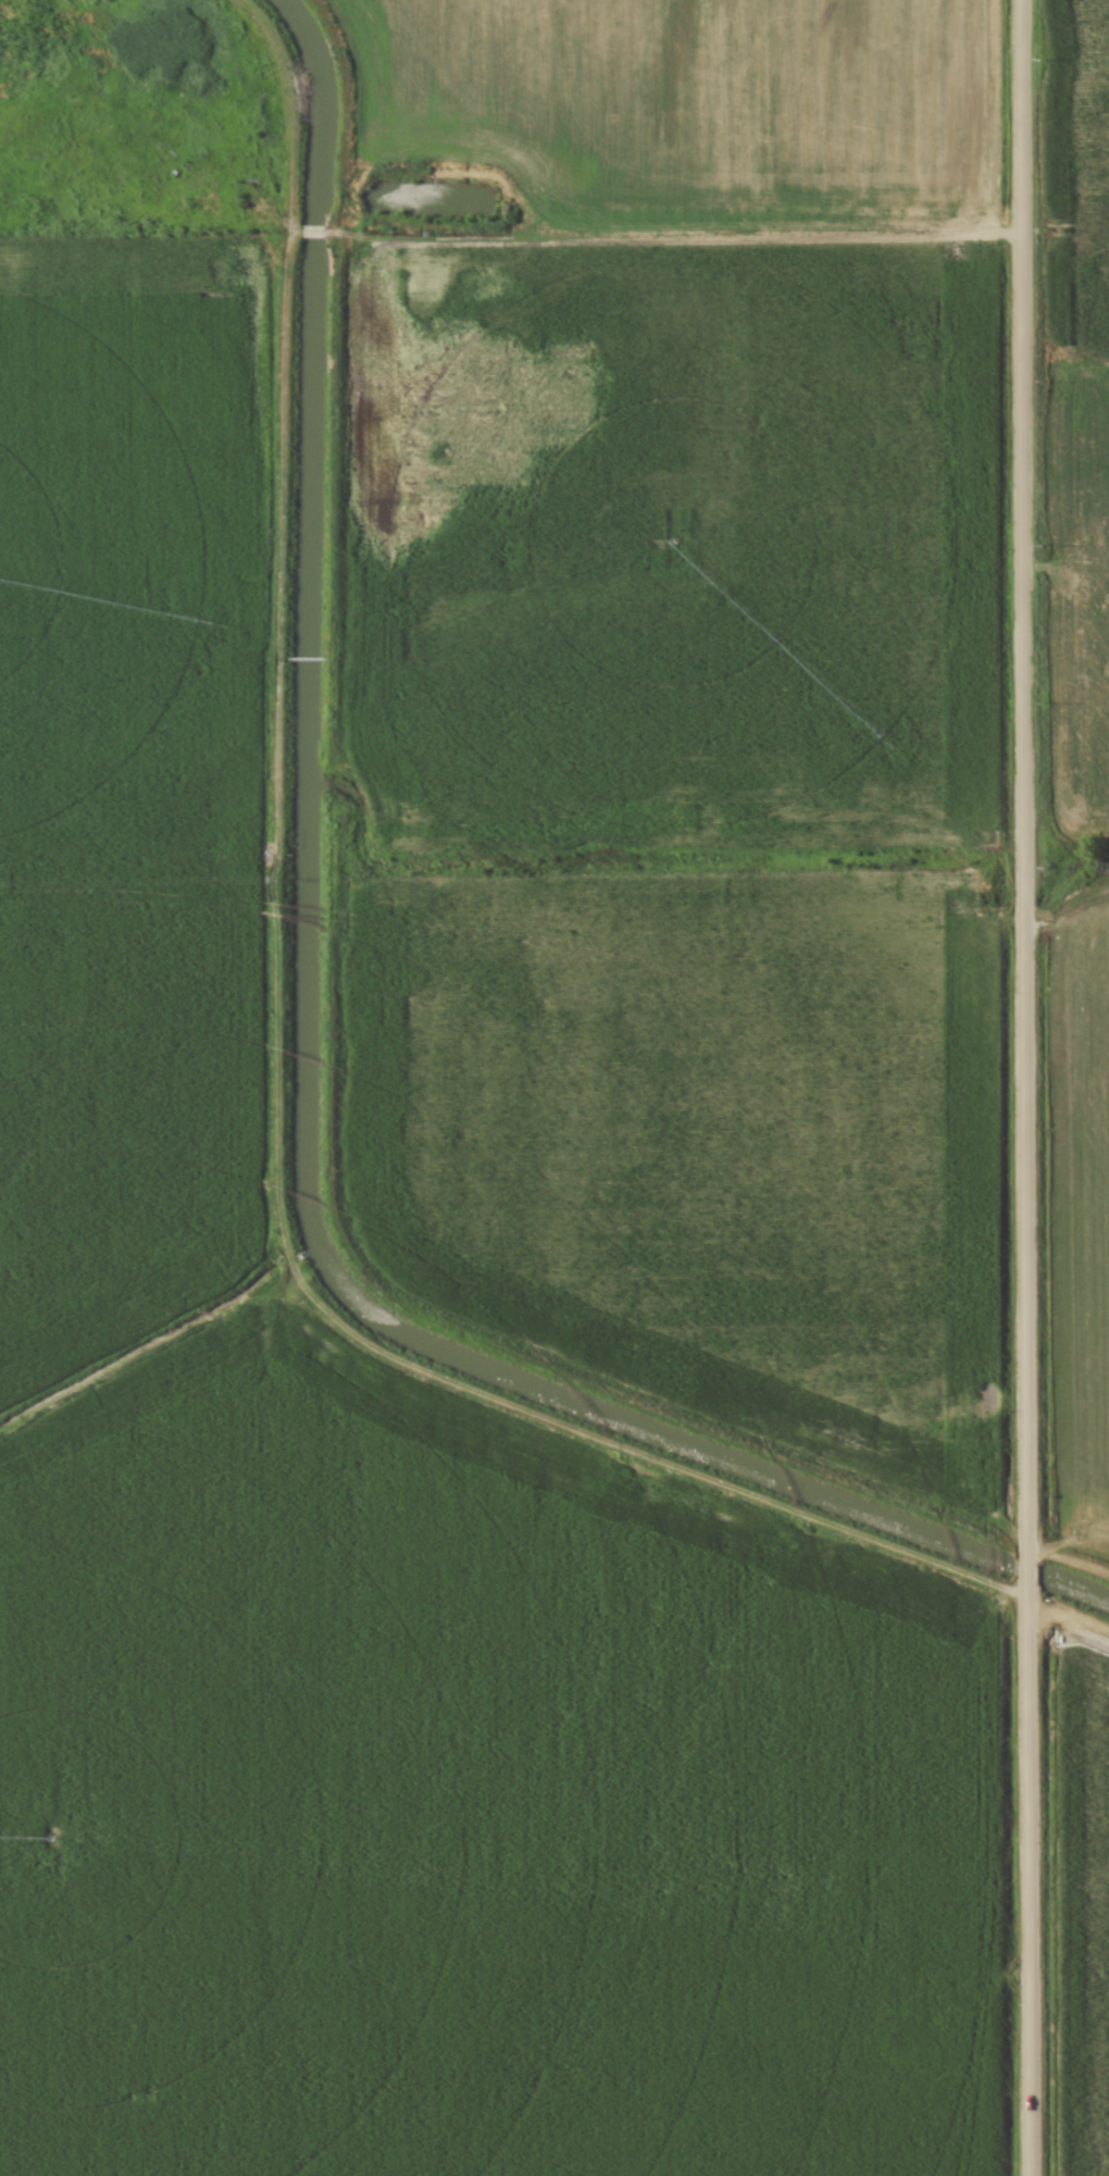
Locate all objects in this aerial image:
crop: (715, 412)
crop: (1077, 415)
building: (995, 695)
road: (1023, 1087)
crop: (697, 1110)
crop: (1085, 1194)
crop: (377, 1560)
crop: (1081, 1906)

